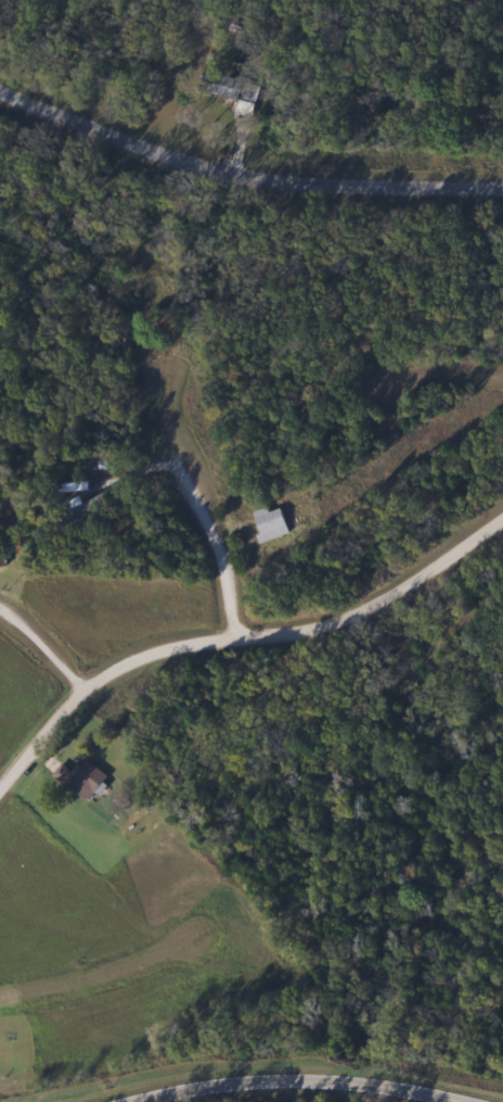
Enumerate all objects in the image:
building: (217, 86)
road: (243, 179)
road: (431, 383)
road: (203, 504)
building: (79, 508)
building: (267, 524)
road: (237, 637)
road: (39, 669)
building: (79, 780)
road: (307, 1080)

